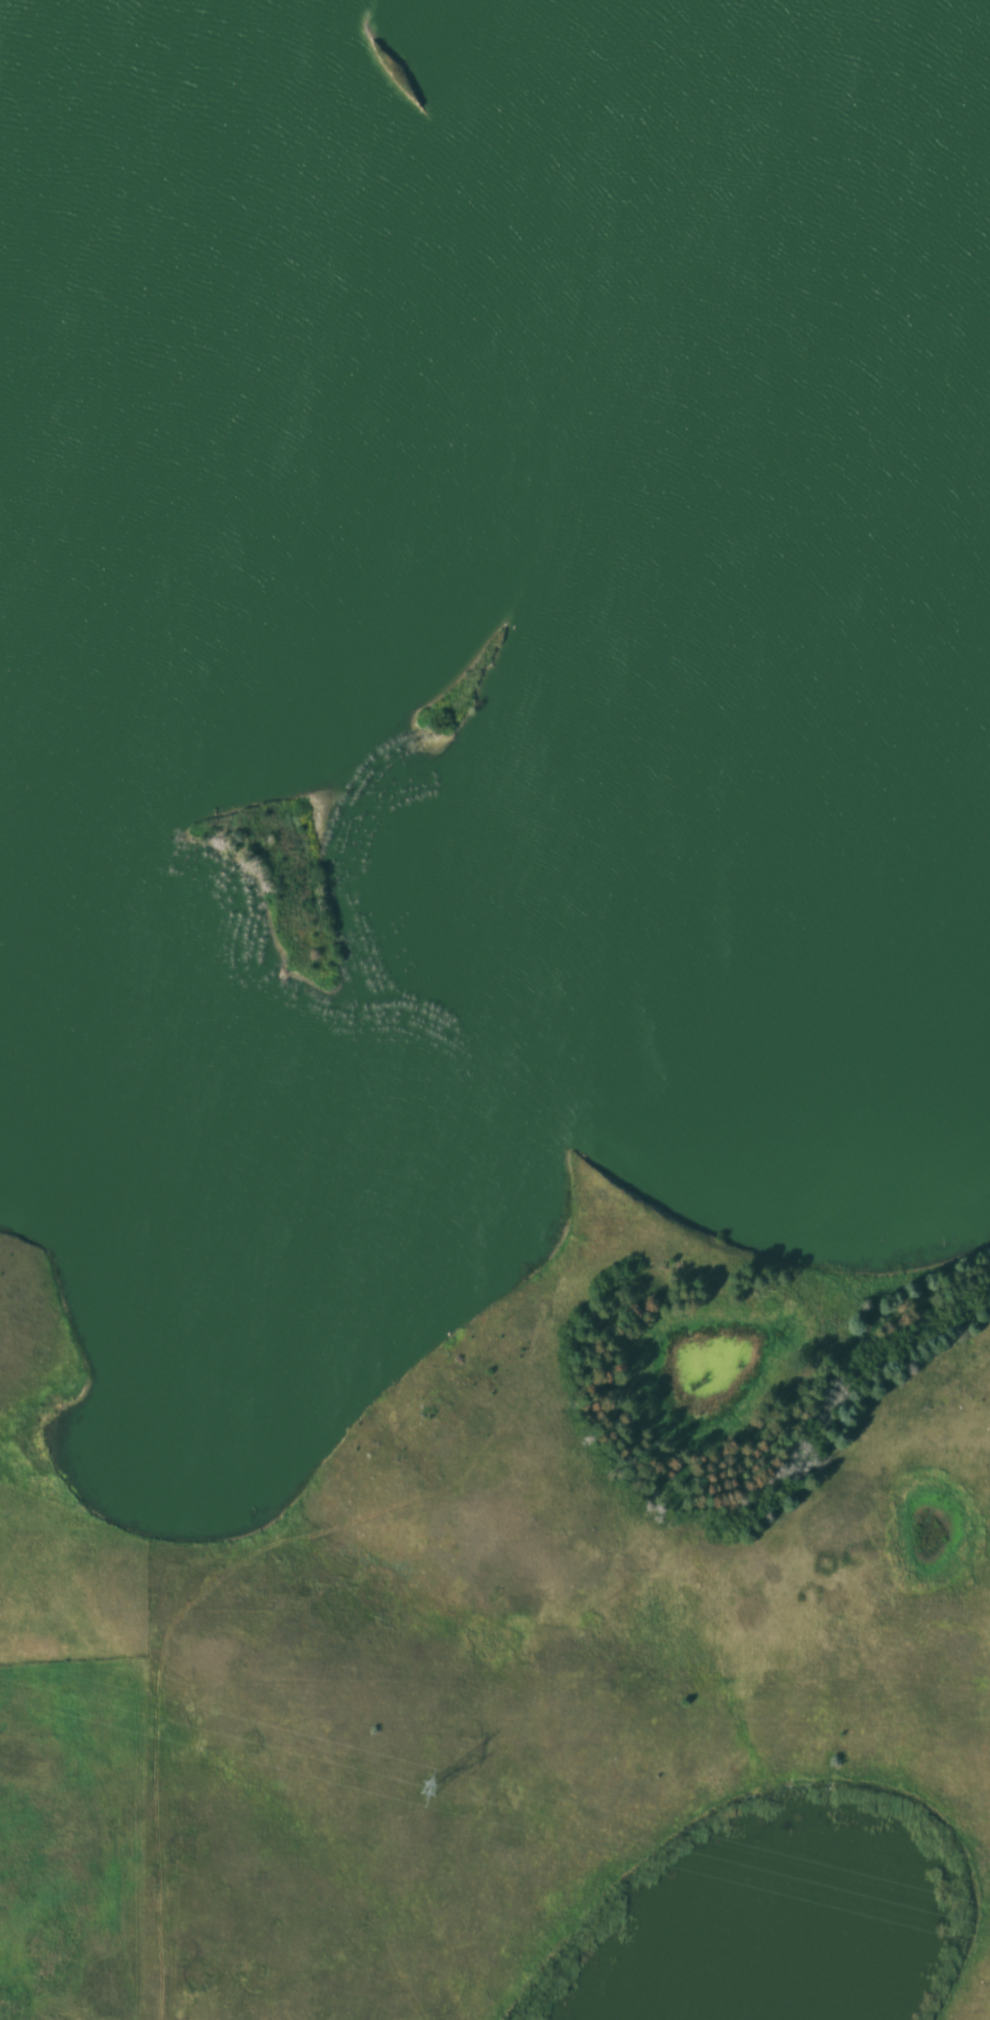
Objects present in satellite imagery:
power tower: (438, 1788)

